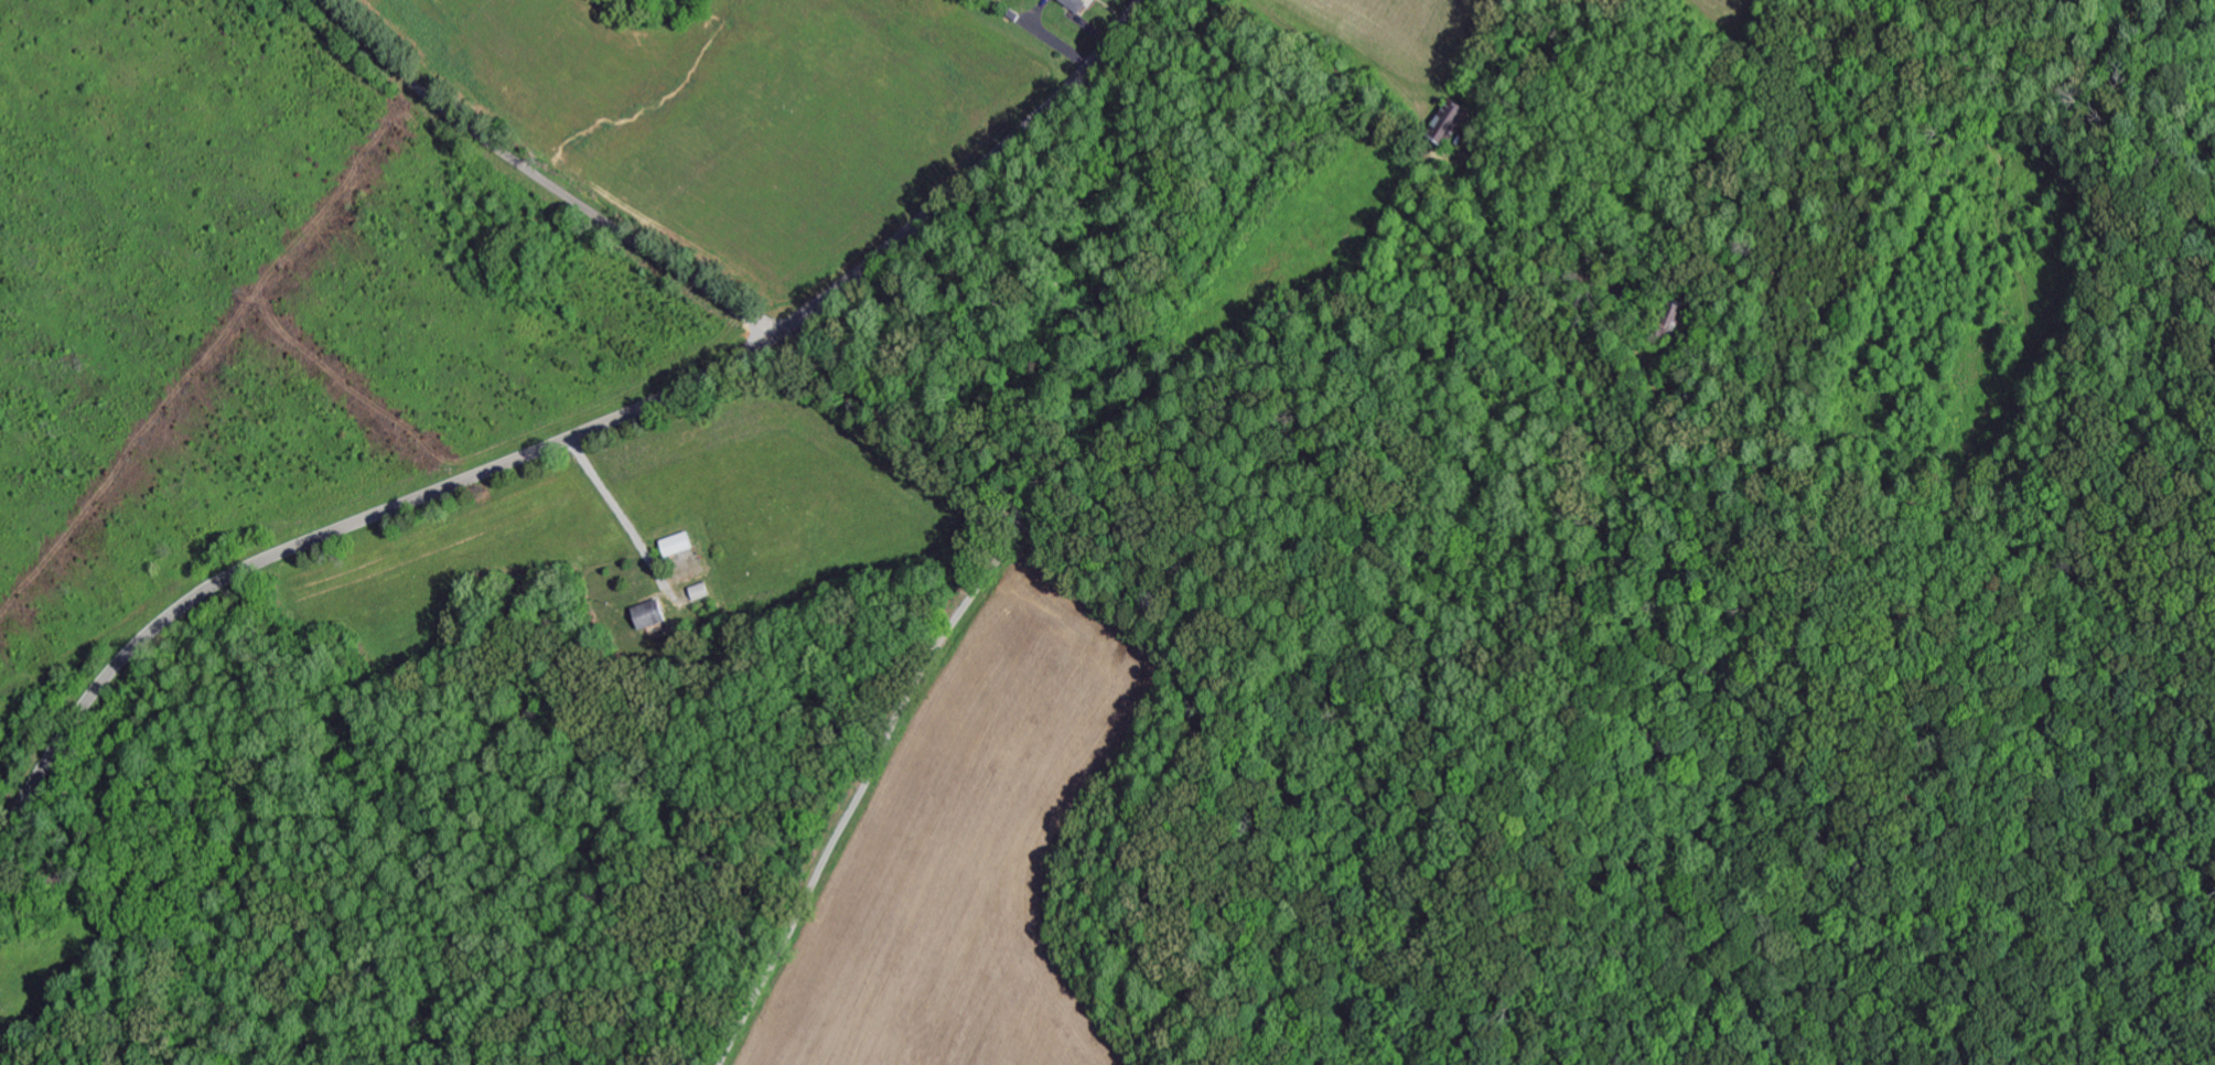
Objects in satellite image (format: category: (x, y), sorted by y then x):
building: (1080, 3)
building: (1448, 125)
road: (541, 179)
road: (1643, 392)
road: (571, 439)
building: (684, 544)
building: (705, 591)
building: (655, 616)
road: (935, 652)

